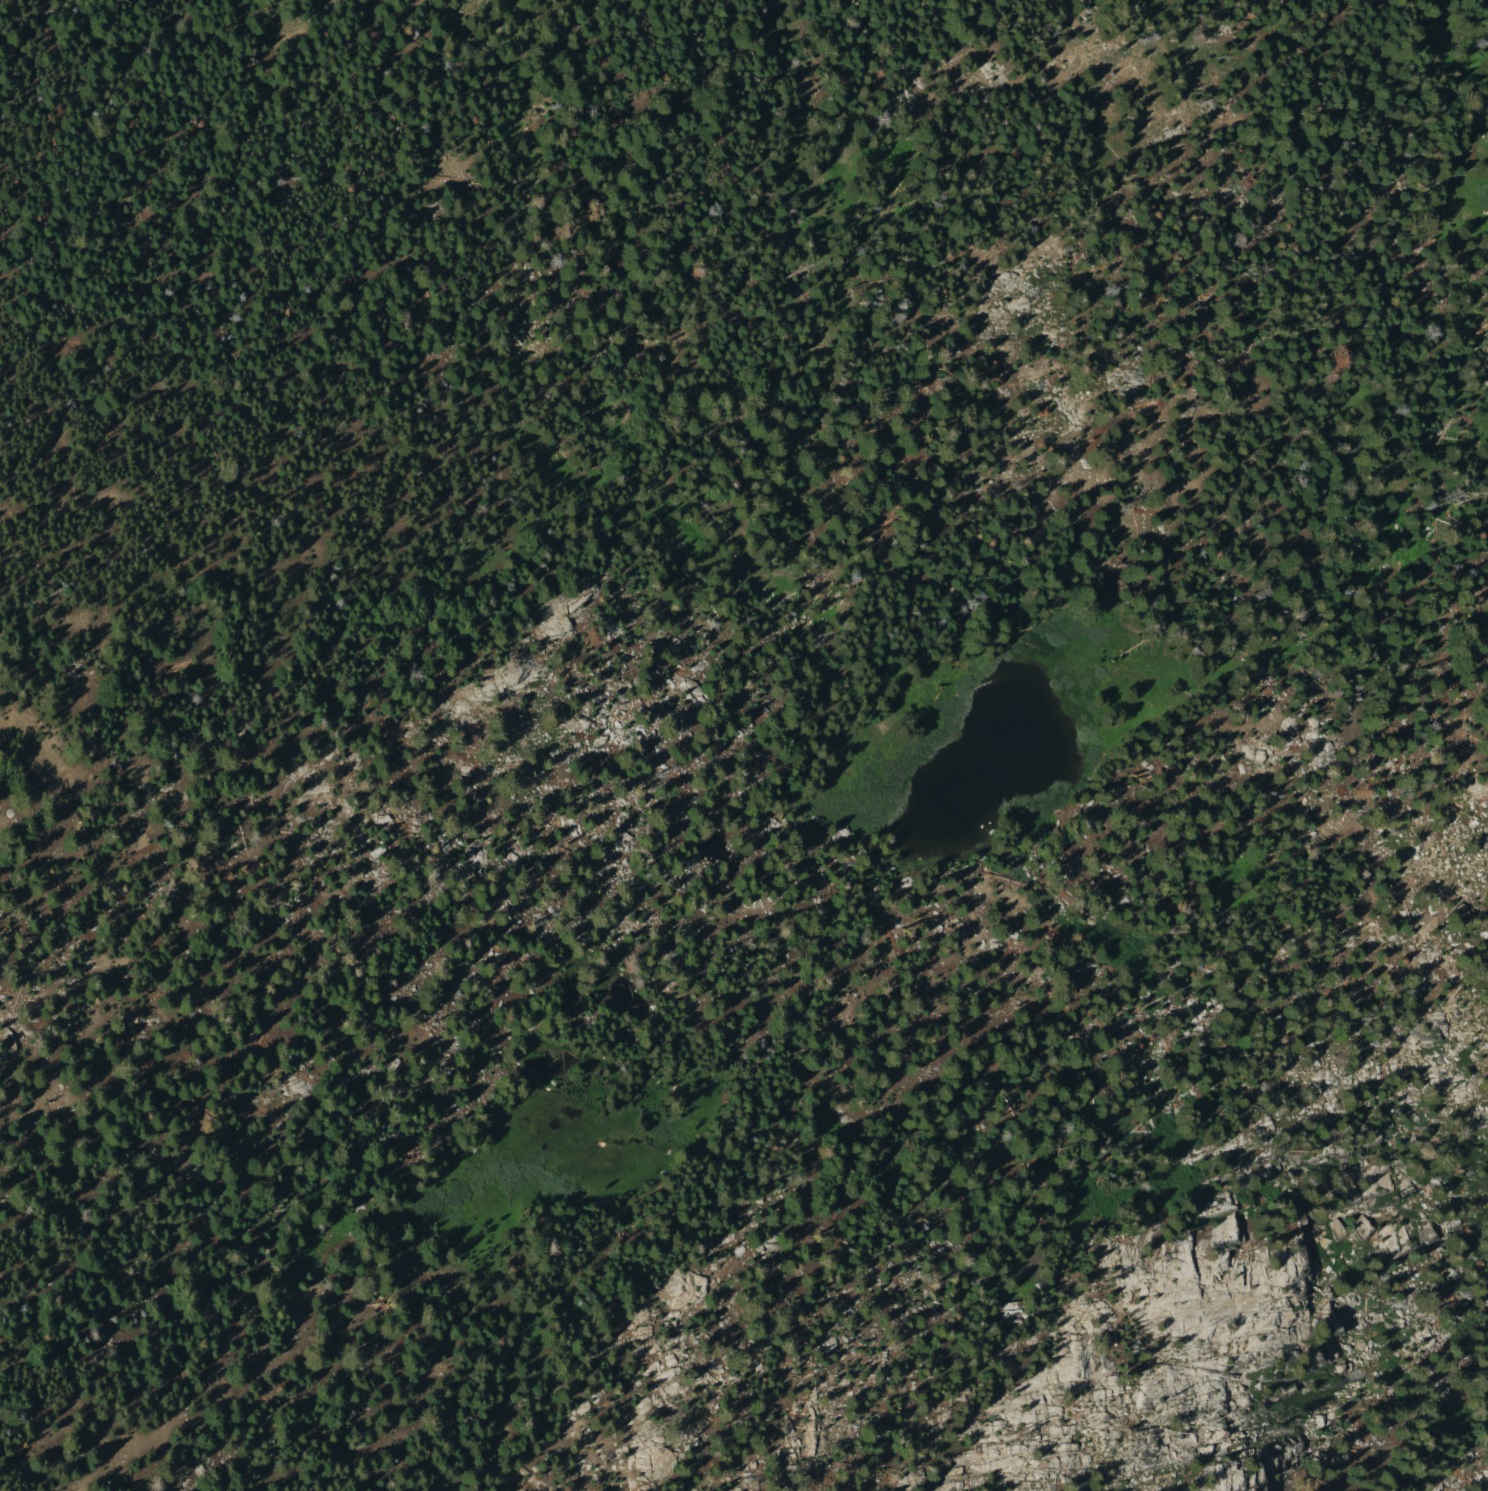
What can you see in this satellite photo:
road: (611, 433)

